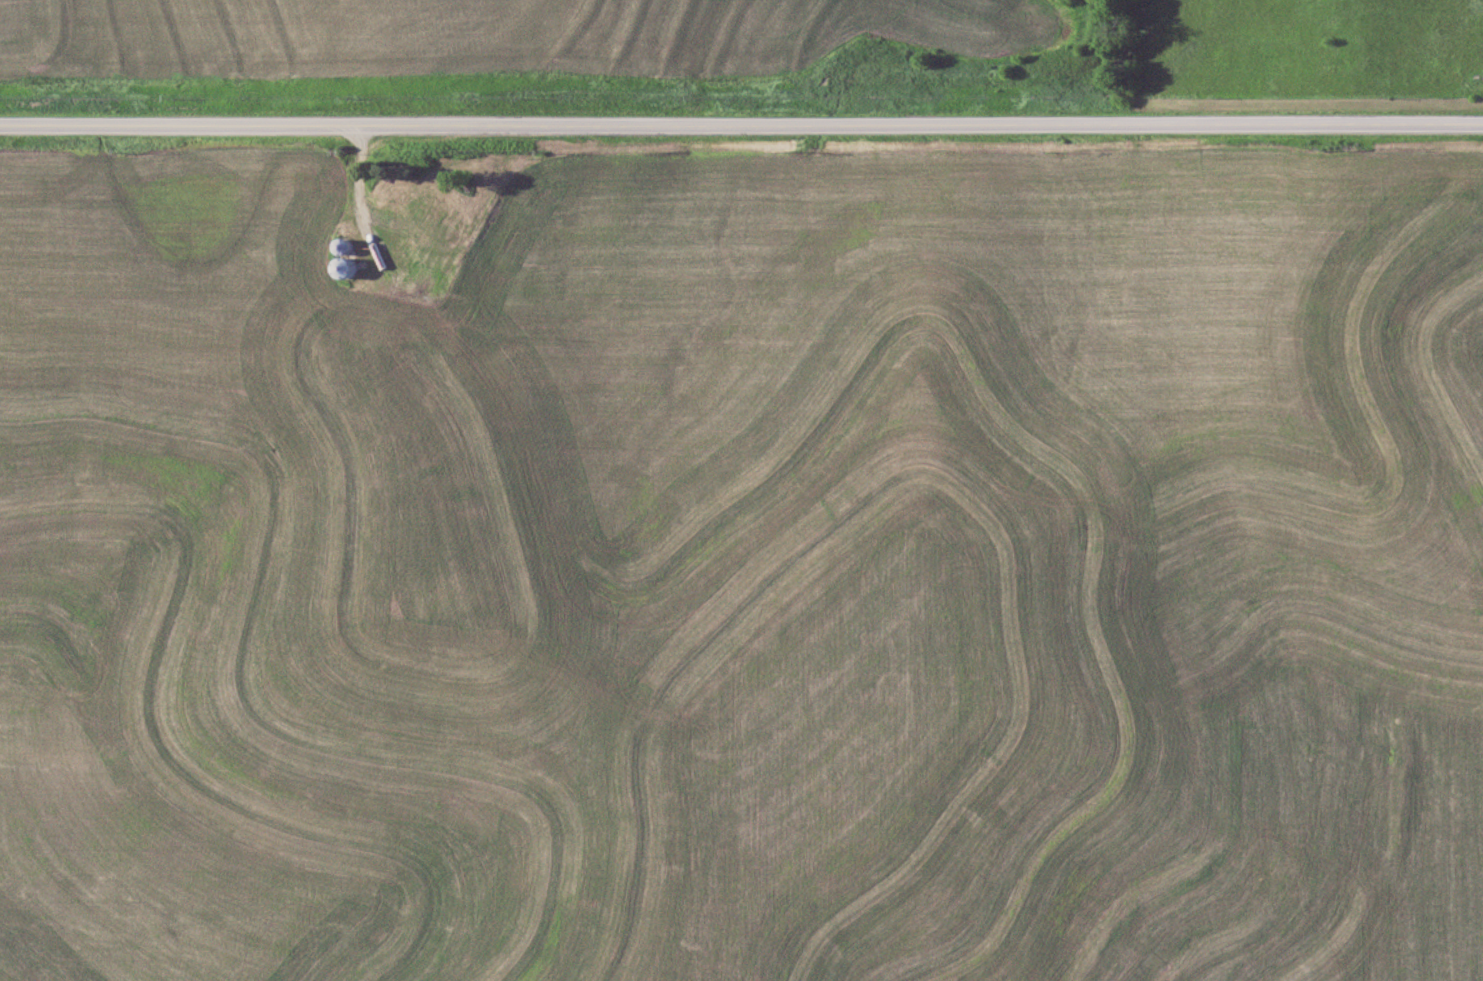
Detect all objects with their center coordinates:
road: (741, 124)
building: (534, 181)
building: (348, 264)

